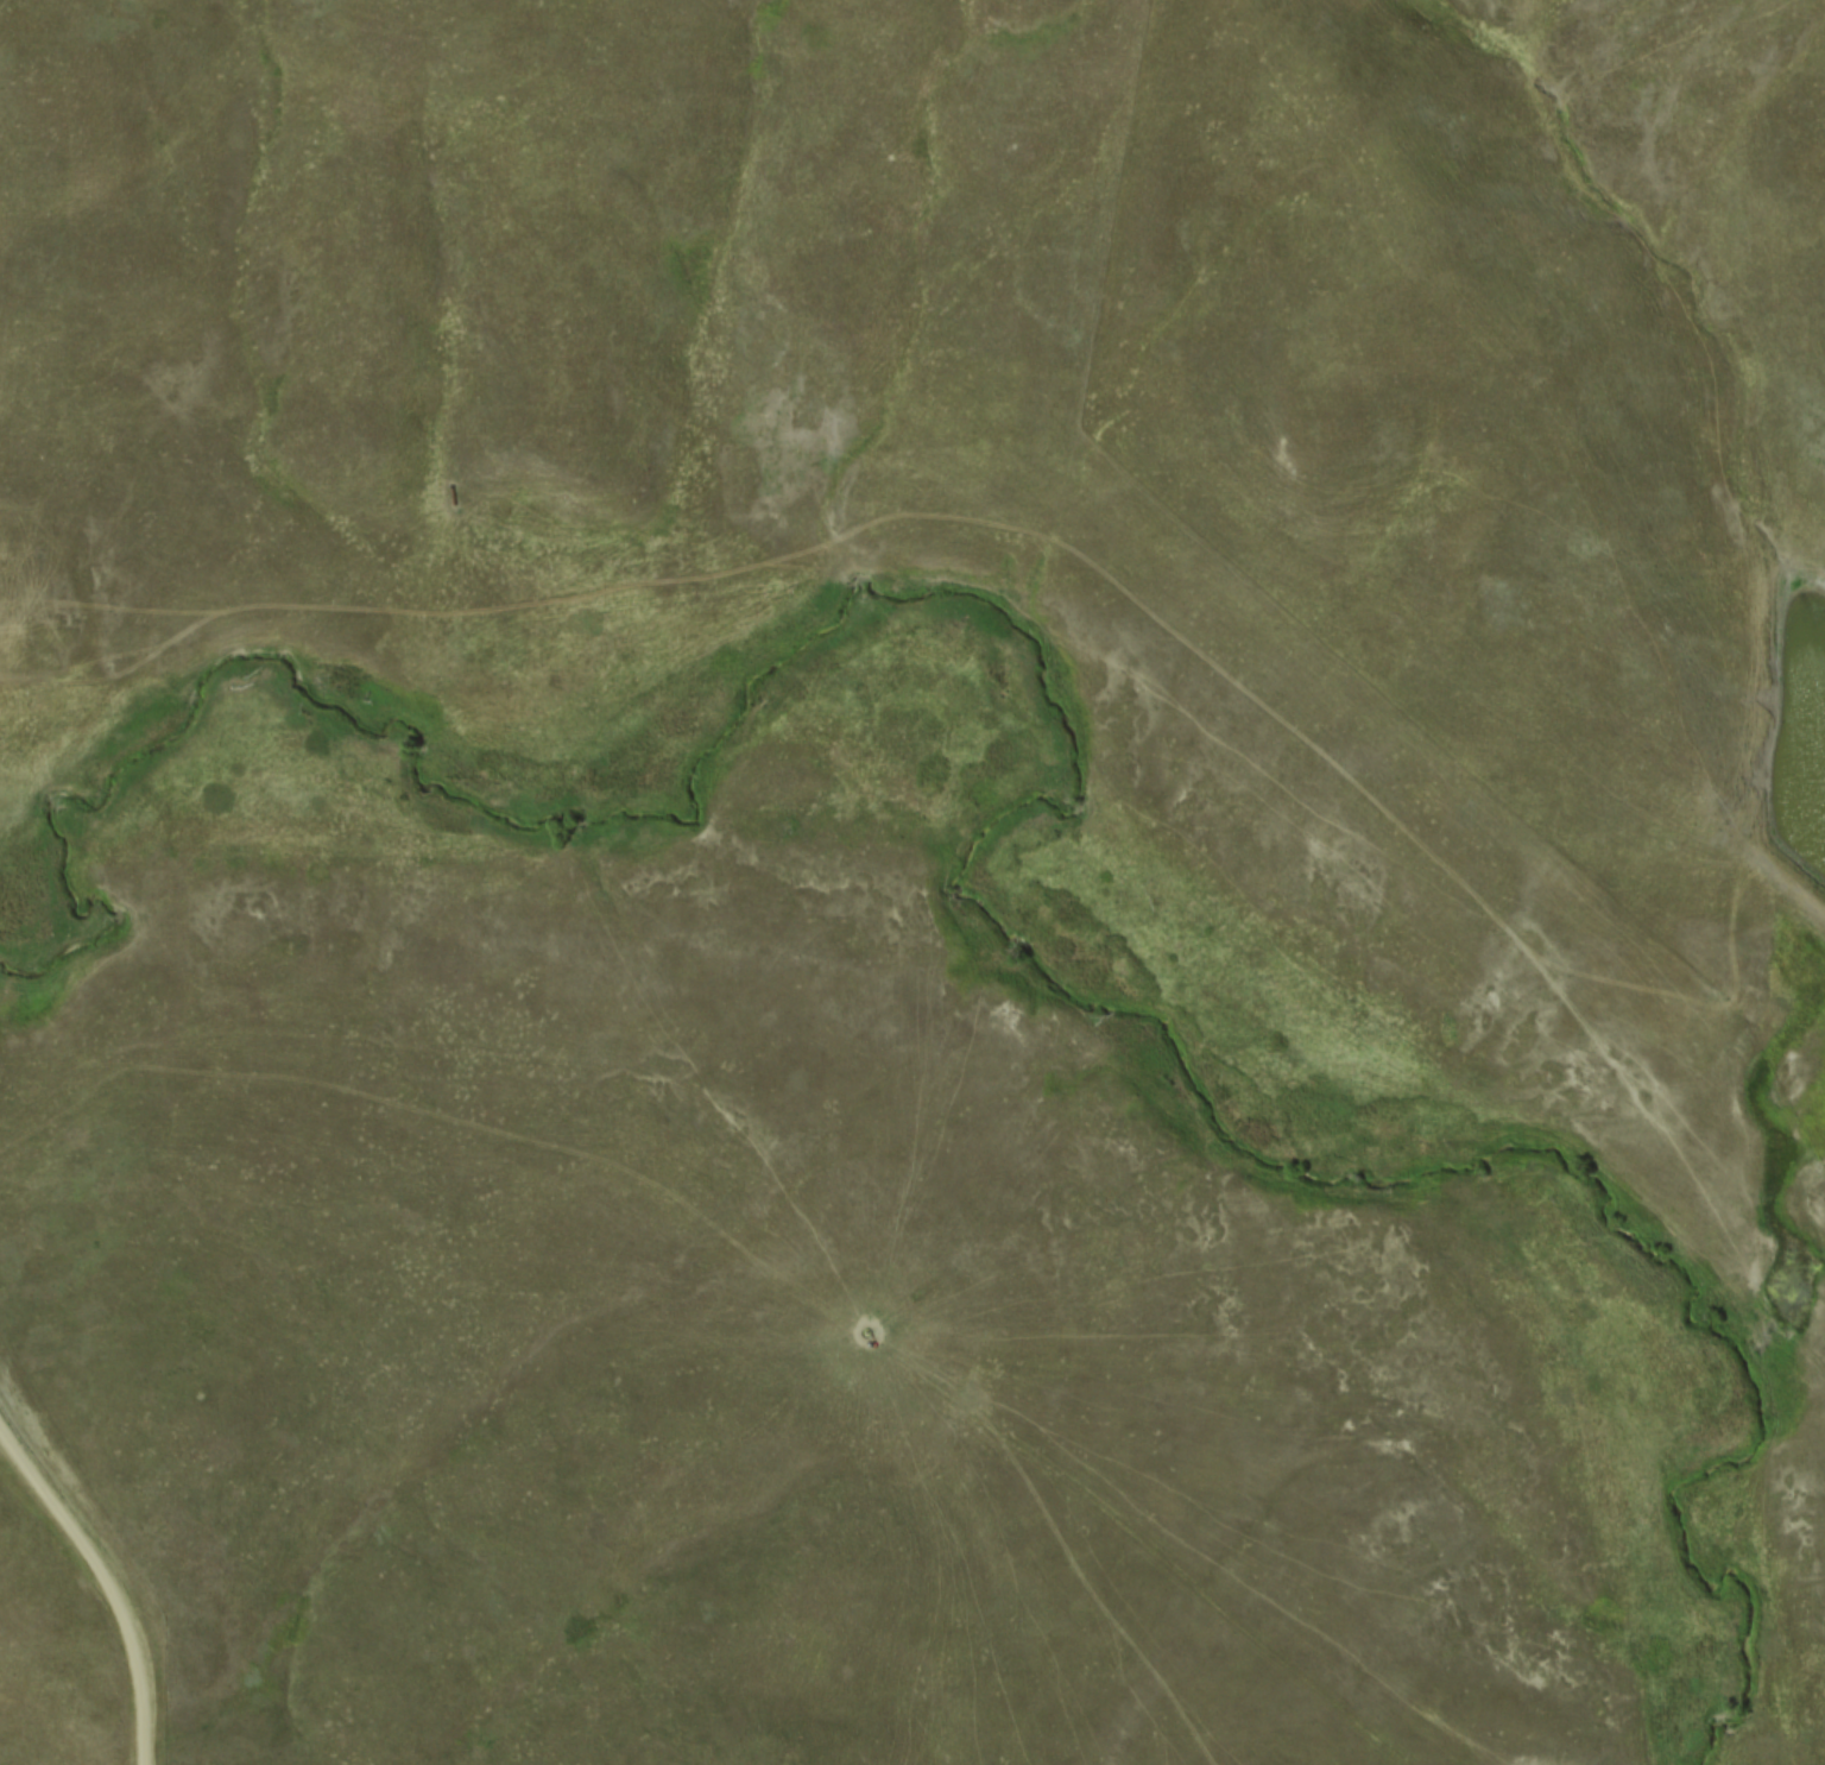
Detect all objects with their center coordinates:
road: (103, 1583)

